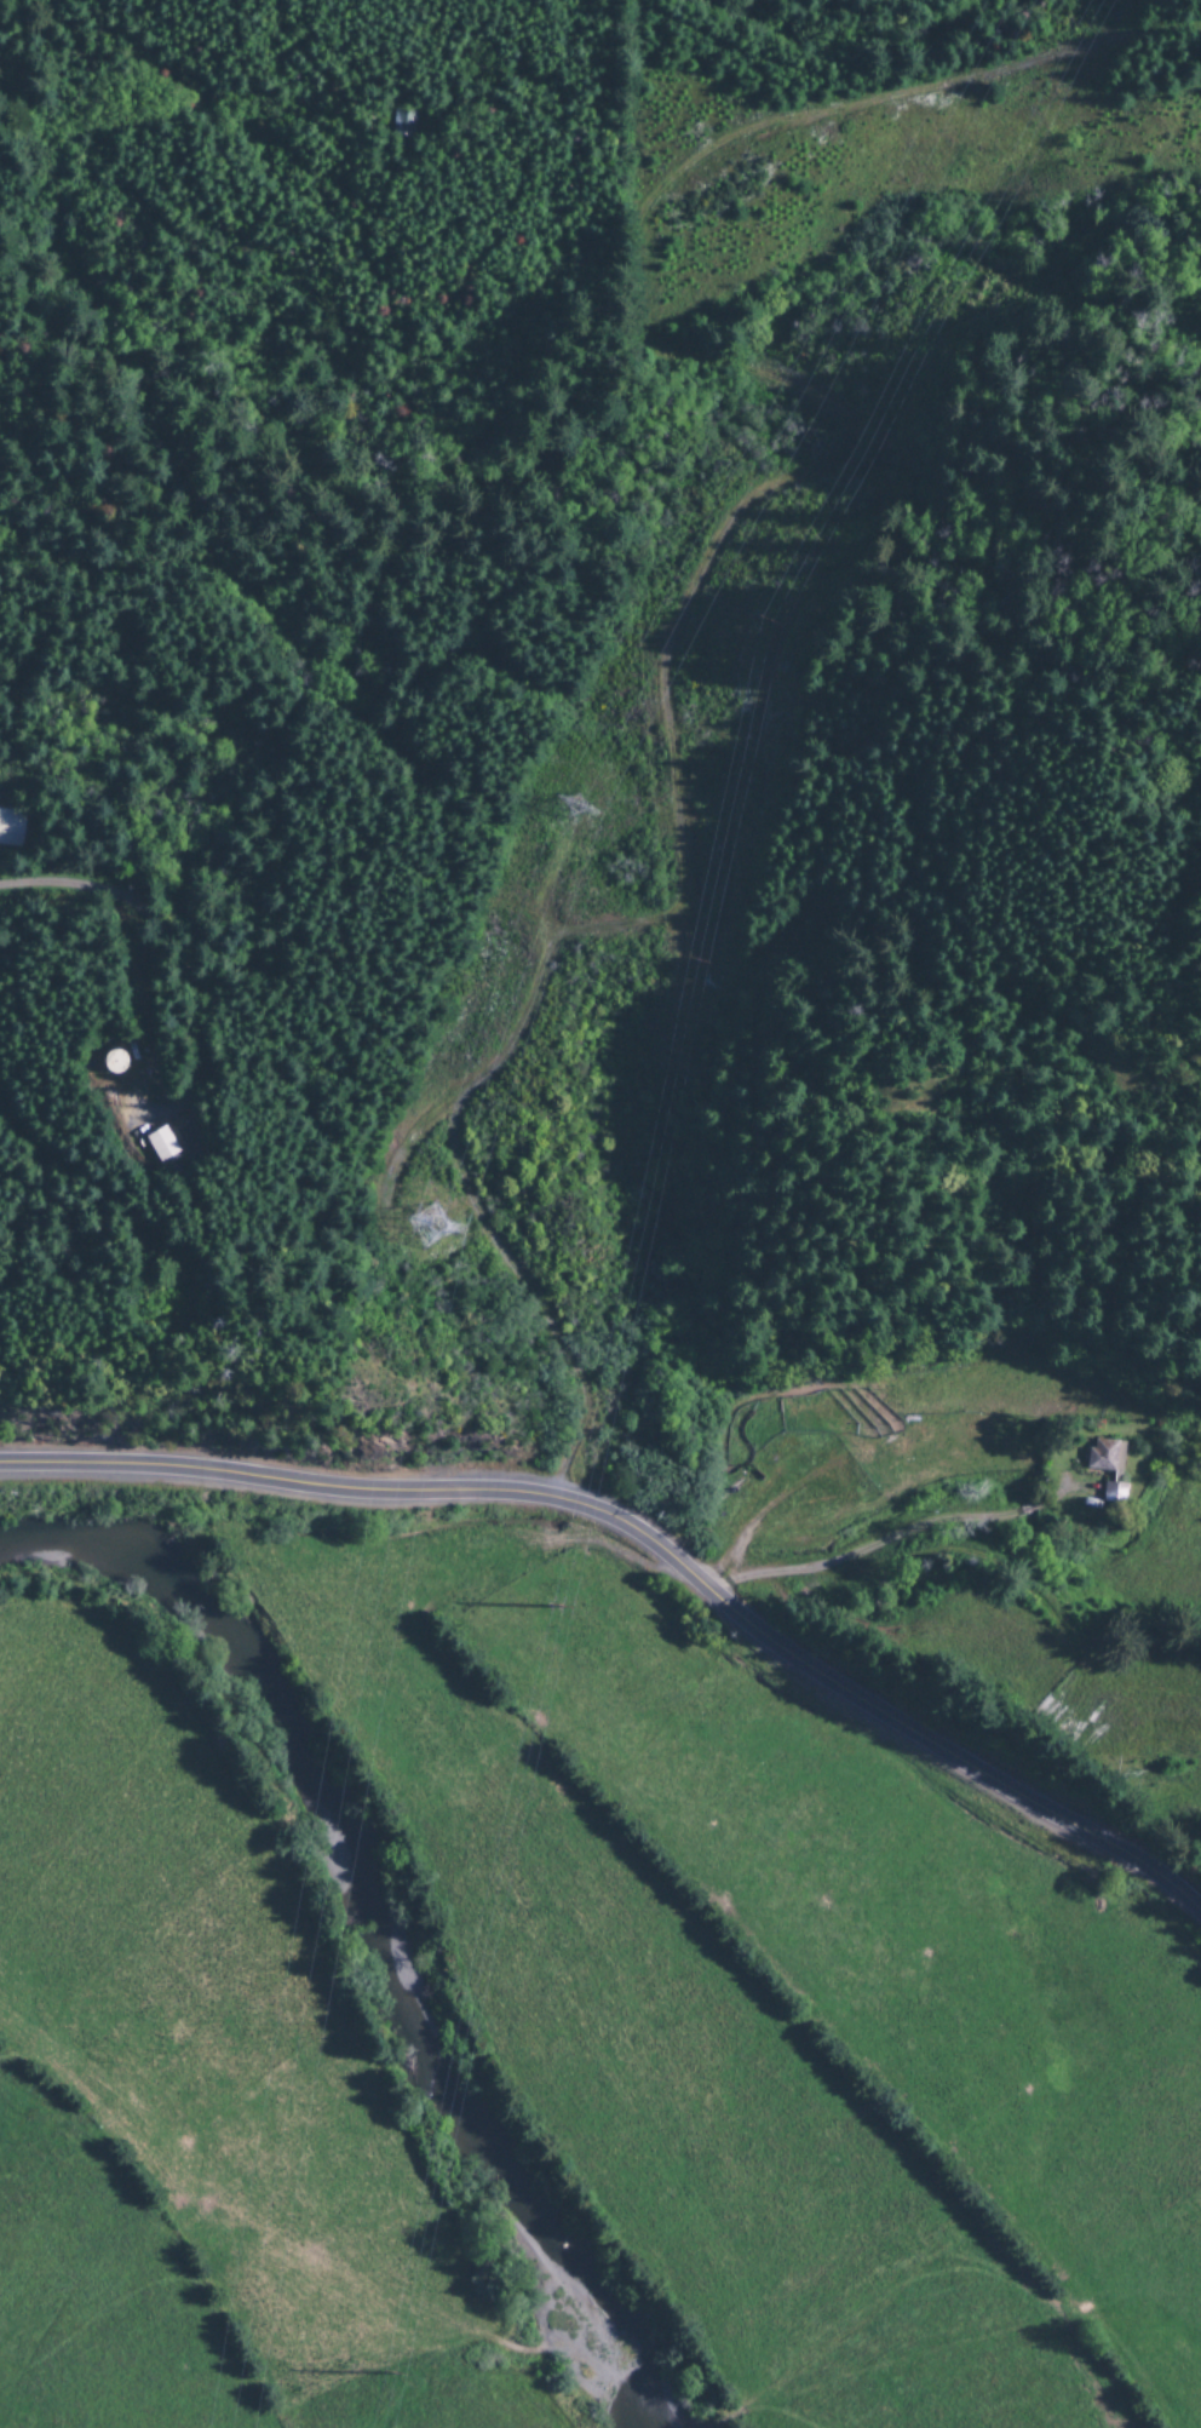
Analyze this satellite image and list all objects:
power tower: (569, 808)
road: (174, 953)
building: (110, 1062)
building: (160, 1146)
power tower: (425, 1227)
building: (1103, 1457)
building: (1111, 1494)
road: (887, 1544)
road: (651, 1548)

